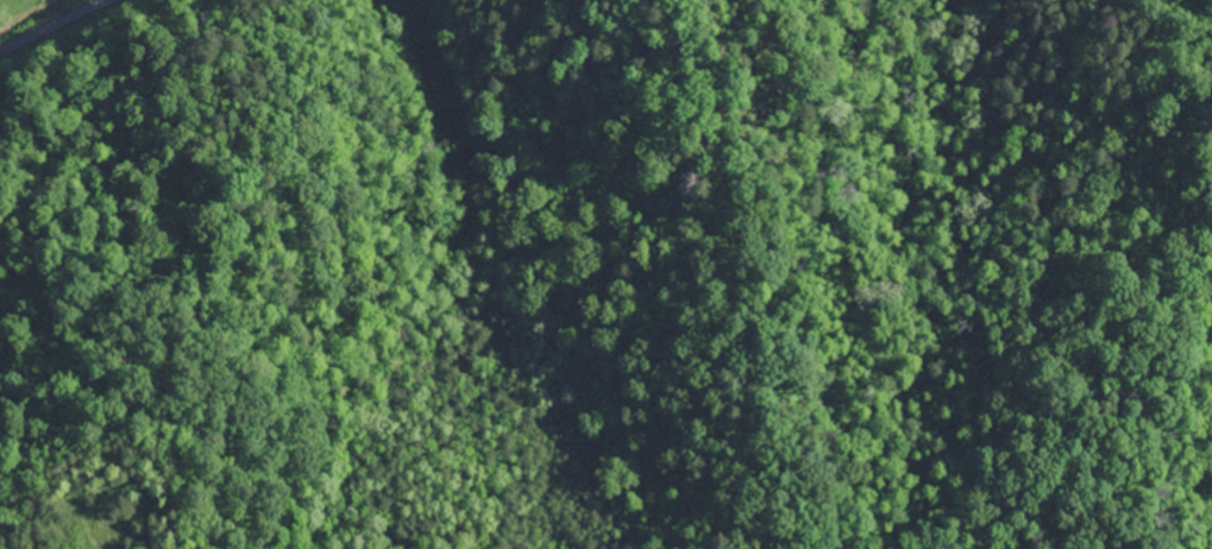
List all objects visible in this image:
road: (54, 26)

